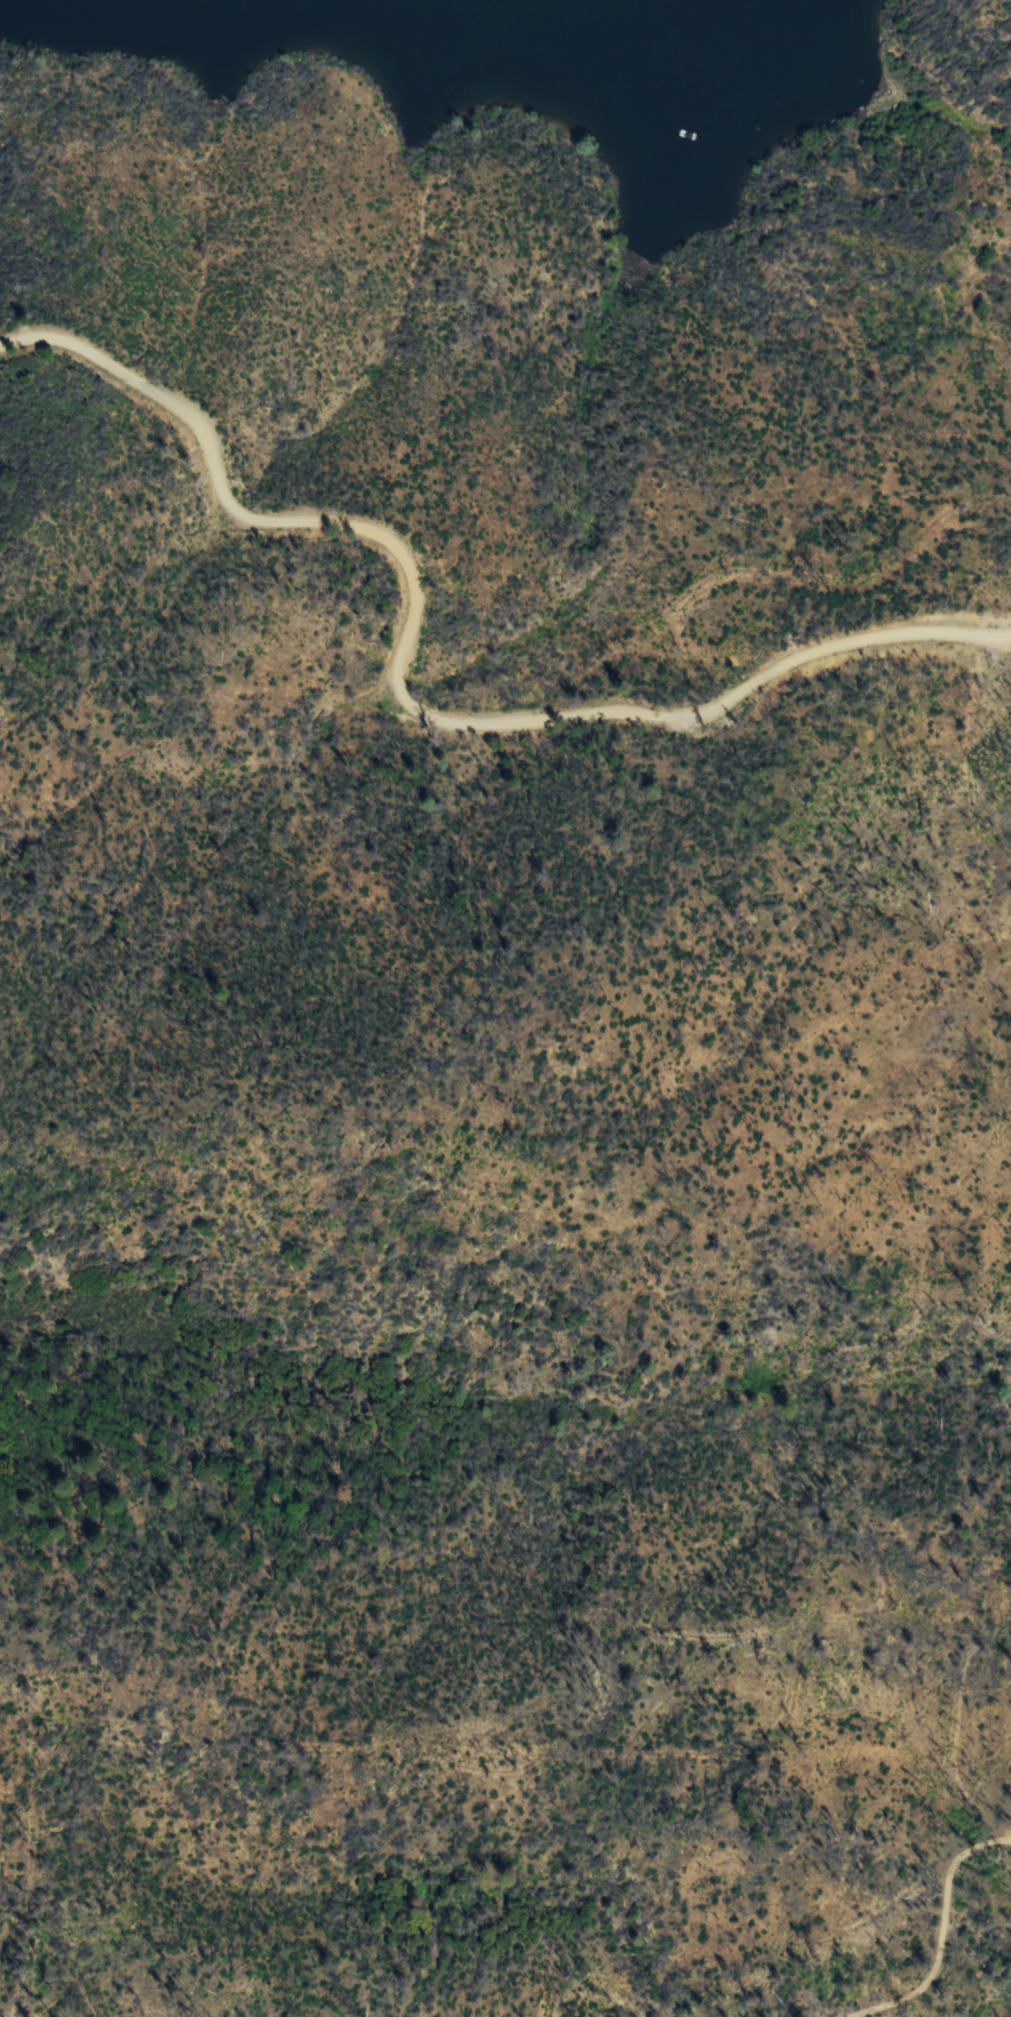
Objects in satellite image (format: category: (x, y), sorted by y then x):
road: (400, 687)
road: (777, 1964)
road: (936, 1966)

